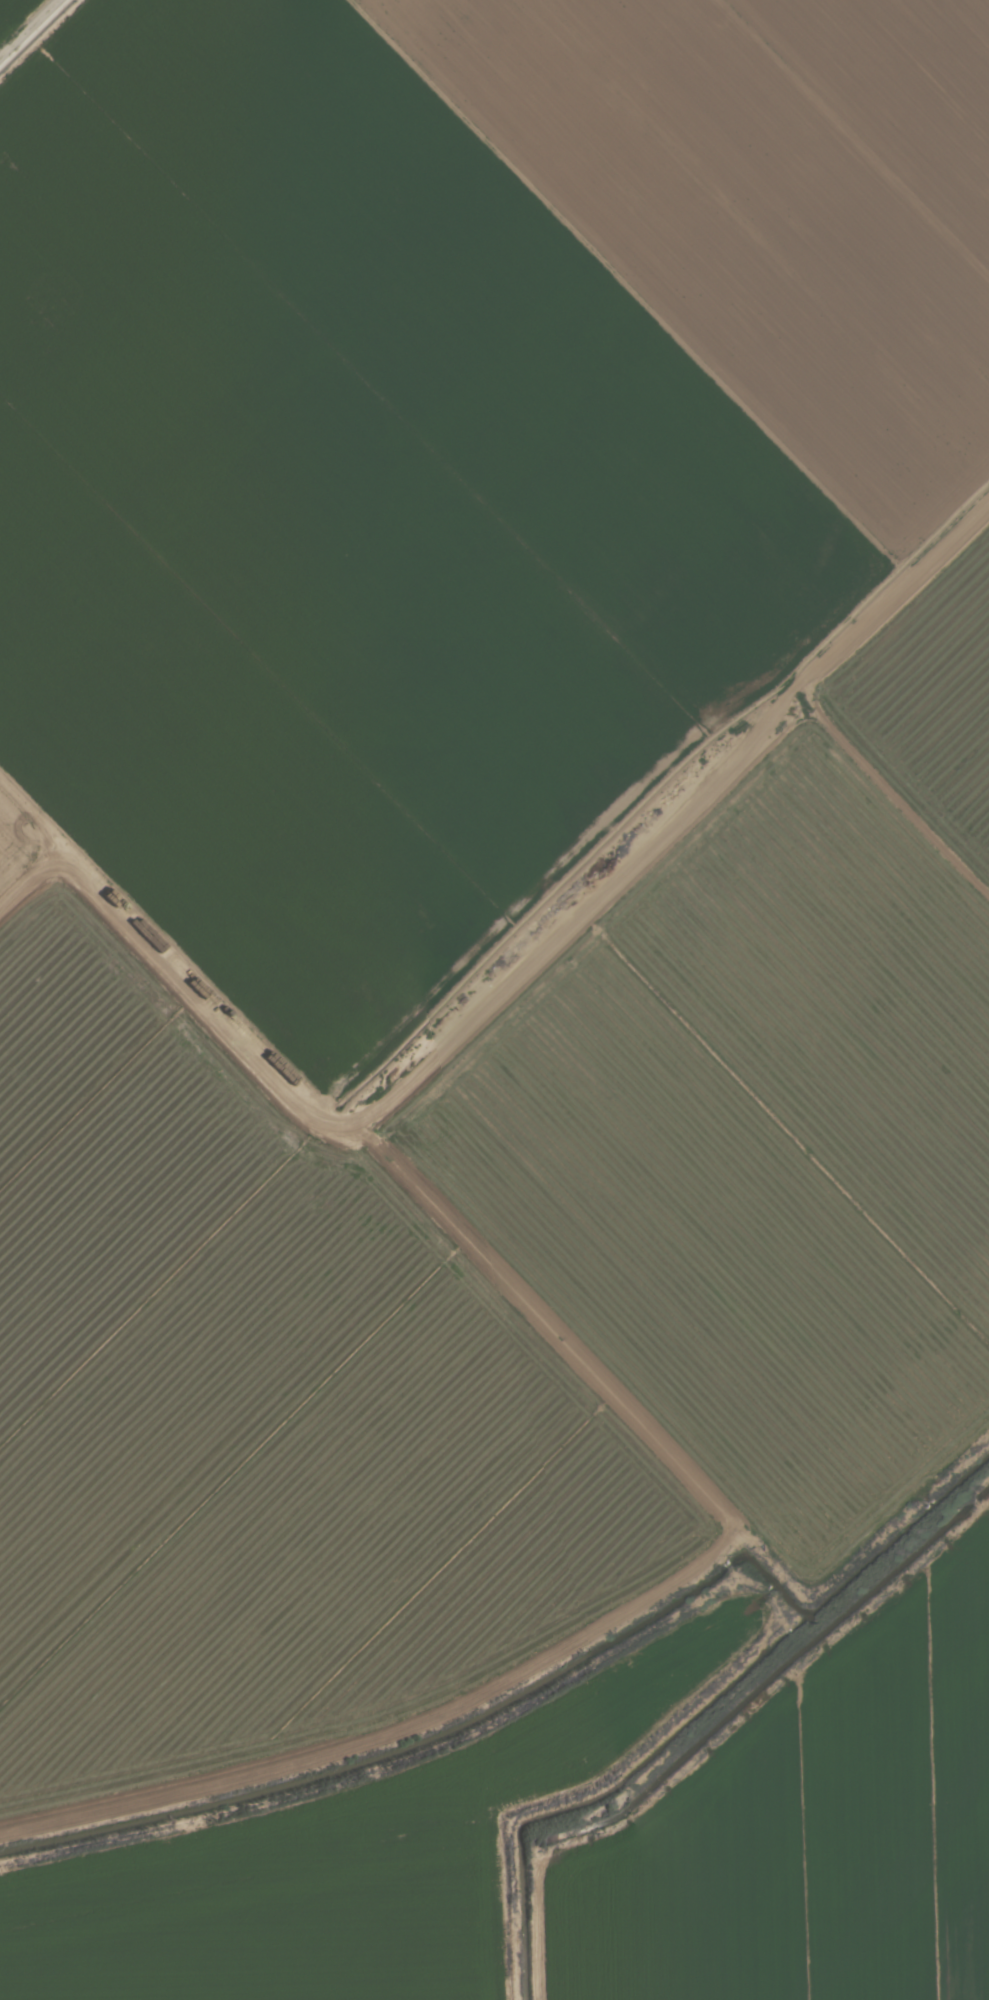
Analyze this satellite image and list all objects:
crop: (18, 844)

